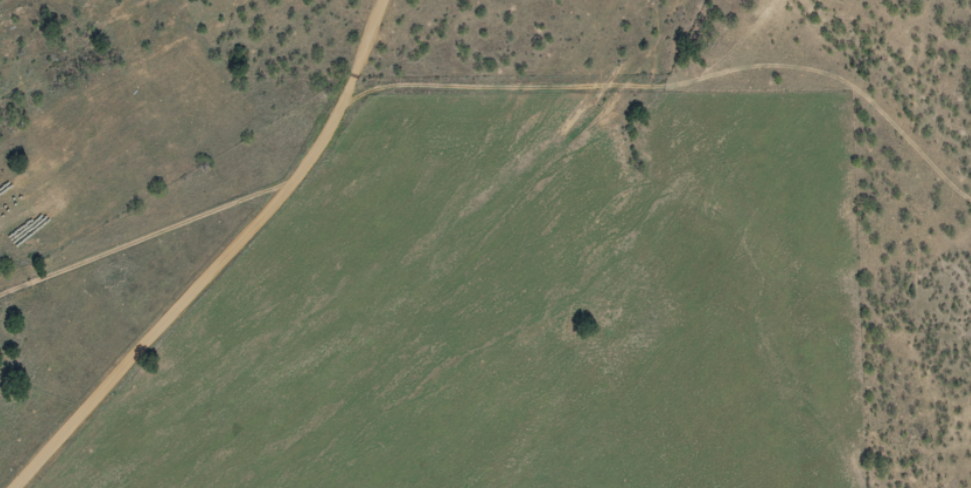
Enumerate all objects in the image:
road: (231, 255)

